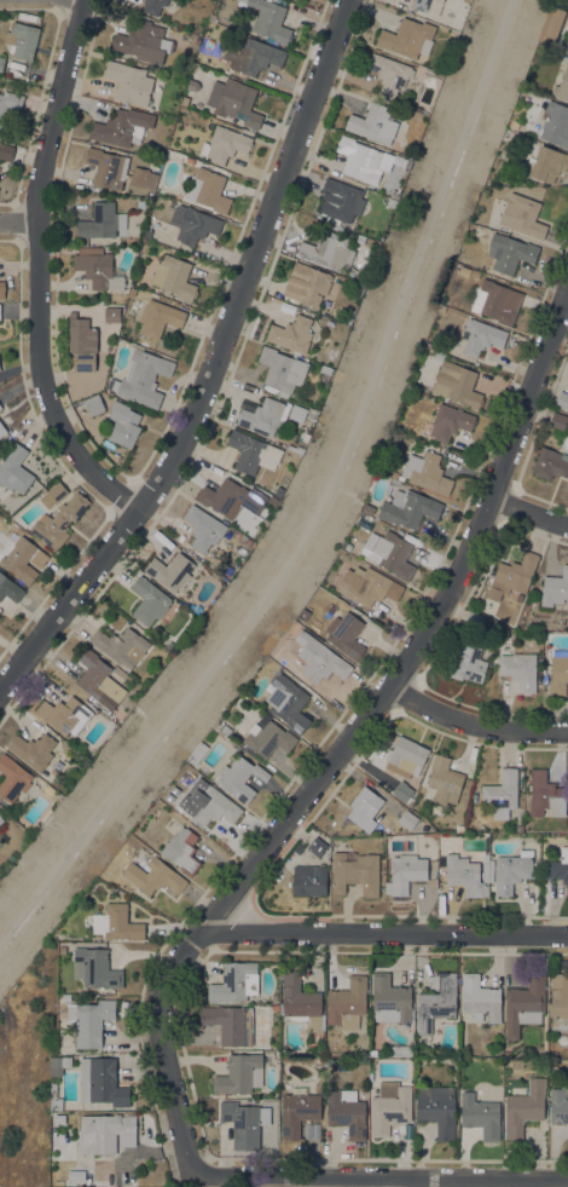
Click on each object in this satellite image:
building: (153, 6)
building: (428, 6)
building: (561, 10)
building: (271, 19)
building: (566, 23)
building: (406, 38)
building: (22, 40)
building: (140, 41)
building: (567, 51)
building: (253, 56)
building: (1, 62)
building: (388, 73)
building: (129, 82)
building: (562, 82)
road: (41, 86)
building: (184, 100)
building: (233, 102)
building: (10, 103)
building: (514, 123)
building: (376, 125)
building: (556, 125)
building: (122, 127)
building: (224, 144)
building: (6, 151)
building: (361, 160)
building: (399, 161)
building: (155, 163)
building: (547, 163)
building: (114, 169)
building: (208, 190)
building: (395, 195)
building: (340, 200)
building: (390, 202)
building: (522, 215)
building: (102, 221)
road: (18, 223)
road: (18, 224)
building: (192, 224)
building: (146, 234)
building: (144, 241)
building: (326, 250)
building: (509, 253)
building: (99, 269)
road: (37, 272)
building: (475, 273)
building: (174, 277)
building: (307, 284)
building: (2, 290)
building: (132, 292)
building: (100, 300)
building: (497, 302)
building: (288, 309)
building: (111, 315)
road: (566, 315)
building: (158, 318)
building: (330, 323)
building: (291, 335)
building: (479, 338)
building: (82, 344)
road: (211, 364)
building: (282, 370)
building: (325, 371)
building: (141, 379)
road: (227, 384)
building: (457, 385)
building: (562, 401)
building: (94, 405)
building: (0, 407)
building: (311, 413)
building: (263, 416)
building: (558, 421)
building: (450, 422)
building: (123, 425)
building: (2, 430)
building: (253, 453)
road: (59, 463)
building: (550, 463)
building: (15, 469)
building: (427, 472)
building: (395, 476)
road: (135, 477)
building: (395, 483)
building: (278, 492)
building: (53, 495)
road: (122, 499)
building: (231, 499)
building: (272, 502)
road: (320, 502)
building: (408, 508)
road: (529, 513)
building: (59, 520)
building: (203, 529)
building: (243, 540)
building: (389, 553)
building: (18, 559)
building: (170, 571)
building: (227, 571)
building: (512, 576)
building: (367, 586)
building: (10, 588)
building: (555, 588)
building: (150, 601)
building: (305, 615)
building: (474, 620)
building: (347, 636)
building: (121, 646)
building: (319, 658)
building: (466, 663)
building: (520, 670)
building: (545, 672)
building: (95, 676)
building: (558, 676)
building: (288, 702)
building: (64, 715)
road: (340, 718)
building: (218, 726)
road: (476, 727)
building: (225, 730)
building: (268, 739)
road: (348, 743)
building: (34, 750)
building: (198, 754)
building: (407, 755)
building: (12, 778)
building: (239, 778)
building: (444, 780)
building: (402, 790)
building: (502, 794)
building: (545, 795)
building: (213, 807)
building: (365, 808)
building: (1, 820)
building: (407, 820)
building: (459, 828)
building: (520, 829)
building: (318, 847)
building: (182, 851)
building: (560, 866)
building: (485, 868)
building: (491, 871)
building: (511, 871)
building: (355, 872)
building: (405, 872)
building: (464, 875)
building: (153, 876)
building: (309, 880)
building: (116, 923)
road: (383, 934)
building: (62, 950)
building: (94, 968)
building: (234, 981)
building: (65, 997)
building: (480, 997)
building: (389, 999)
building: (558, 1001)
building: (301, 1003)
building: (347, 1003)
building: (436, 1003)
building: (524, 1004)
building: (276, 1008)
building: (262, 1009)
building: (89, 1021)
building: (230, 1024)
park: (6, 1039)
building: (552, 1054)
building: (58, 1065)
building: (240, 1073)
building: (100, 1082)
building: (54, 1099)
building: (558, 1106)
building: (389, 1107)
building: (523, 1107)
building: (437, 1110)
building: (297, 1111)
building: (347, 1112)
building: (480, 1116)
building: (244, 1123)
building: (103, 1133)
road: (379, 1180)

